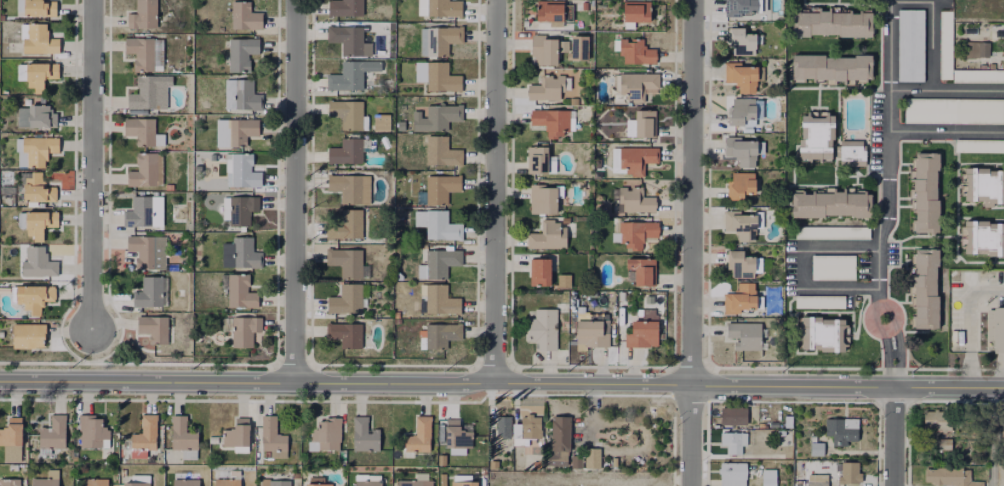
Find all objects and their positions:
building: (743, 7)
building: (346, 8)
building: (439, 8)
building: (35, 9)
building: (554, 10)
building: (636, 12)
building: (143, 15)
building: (245, 17)
building: (832, 24)
building: (349, 39)
building: (440, 39)
building: (743, 41)
building: (39, 43)
building: (577, 44)
building: (911, 44)
building: (946, 44)
building: (544, 49)
building: (978, 49)
building: (636, 51)
building: (141, 52)
building: (242, 54)
road: (930, 62)
building: (832, 67)
building: (40, 75)
building: (352, 75)
building: (978, 75)
building: (437, 76)
building: (746, 77)
building: (635, 86)
building: (548, 88)
building: (148, 90)
road: (909, 91)
building: (241, 95)
building: (954, 110)
building: (741, 111)
building: (347, 113)
building: (41, 116)
building: (437, 117)
building: (552, 121)
building: (382, 122)
building: (642, 125)
building: (141, 130)
building: (241, 130)
road: (946, 131)
building: (817, 137)
building: (979, 144)
building: (349, 150)
building: (743, 150)
building: (35, 151)
building: (442, 152)
road: (888, 152)
building: (850, 153)
building: (633, 160)
building: (538, 161)
road: (92, 168)
building: (147, 170)
building: (244, 172)
building: (741, 186)
building: (984, 186)
building: (347, 188)
building: (439, 189)
building: (35, 190)
road: (296, 190)
road: (495, 192)
building: (927, 193)
building: (545, 199)
building: (635, 200)
building: (832, 205)
building: (240, 210)
building: (144, 212)
building: (36, 223)
building: (350, 225)
building: (741, 225)
building: (440, 226)
building: (636, 232)
building: (832, 232)
building: (548, 236)
building: (985, 239)
road: (692, 243)
building: (146, 250)
building: (241, 254)
building: (346, 261)
building: (38, 263)
building: (439, 264)
building: (742, 264)
building: (833, 267)
road: (799, 268)
building: (540, 271)
building: (642, 272)
building: (562, 280)
building: (927, 289)
building: (238, 290)
building: (149, 293)
building: (32, 299)
building: (741, 299)
building: (346, 300)
building: (440, 301)
building: (820, 301)
building: (648, 314)
road: (867, 317)
road: (966, 321)
building: (543, 329)
building: (996, 329)
building: (154, 330)
building: (242, 330)
building: (345, 334)
building: (643, 334)
building: (824, 334)
building: (592, 335)
building: (745, 335)
building: (439, 336)
building: (30, 337)
road: (884, 338)
road: (898, 357)
road: (886, 366)
road: (502, 384)
building: (734, 416)
building: (939, 421)
building: (787, 422)
building: (864, 425)
building: (529, 426)
building: (502, 427)
building: (91, 431)
building: (516, 431)
building: (843, 431)
building: (12, 433)
building: (54, 433)
building: (184, 434)
building: (237, 434)
building: (145, 436)
building: (326, 436)
building: (365, 436)
building: (420, 436)
road: (891, 436)
road: (991, 437)
building: (273, 438)
building: (458, 439)
building: (558, 440)
building: (734, 442)
building: (507, 443)
building: (945, 444)
building: (816, 449)
building: (756, 451)
building: (591, 459)
building: (577, 462)
building: (613, 463)
building: (537, 465)
building: (850, 474)
building: (745, 476)
building: (1001, 476)
building: (951, 477)
building: (47, 479)
building: (417, 480)
road: (642, 480)
building: (816, 480)
building: (135, 481)
building: (185, 481)
building: (317, 481)
building: (365, 481)
building: (10, 482)
building: (95, 482)
building: (228, 482)
building: (275, 483)
building: (464, 484)

